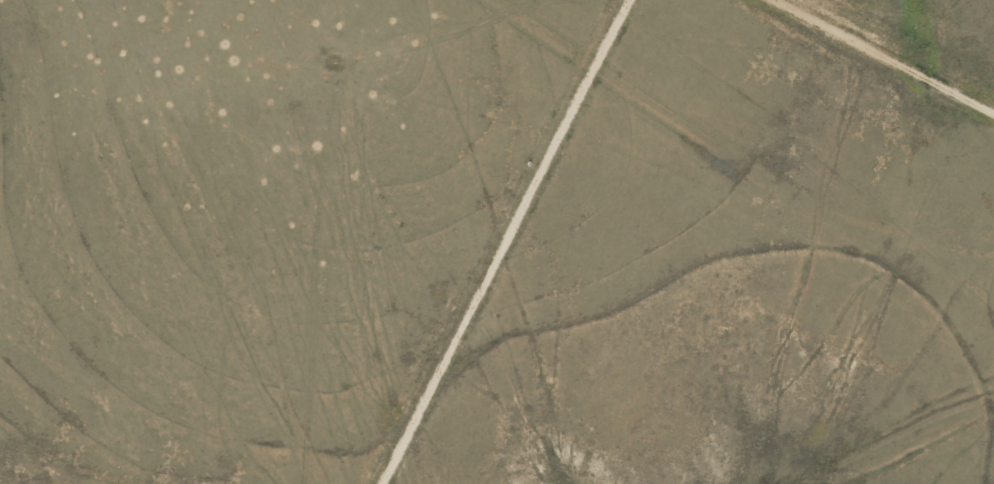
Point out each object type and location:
road: (890, 52)

